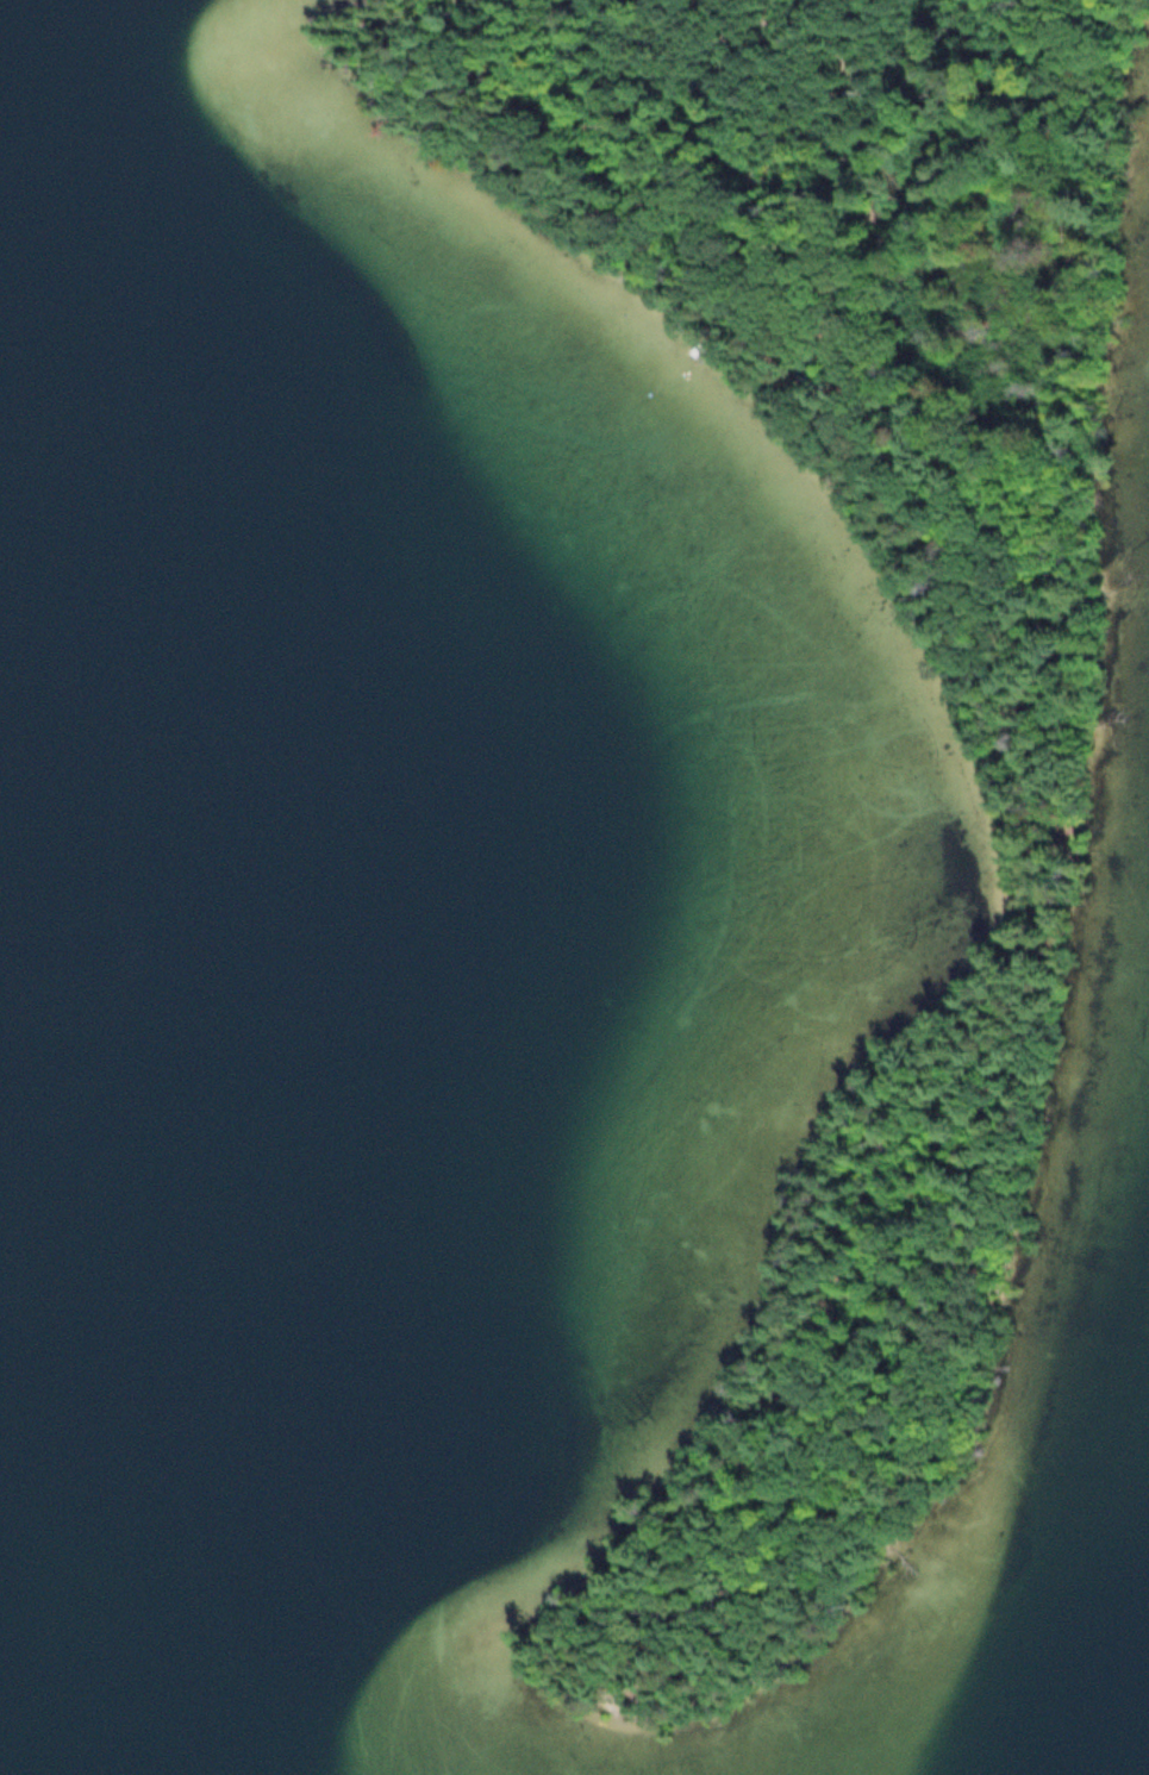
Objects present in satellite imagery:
building: (804, 374)
park: (1044, 865)

